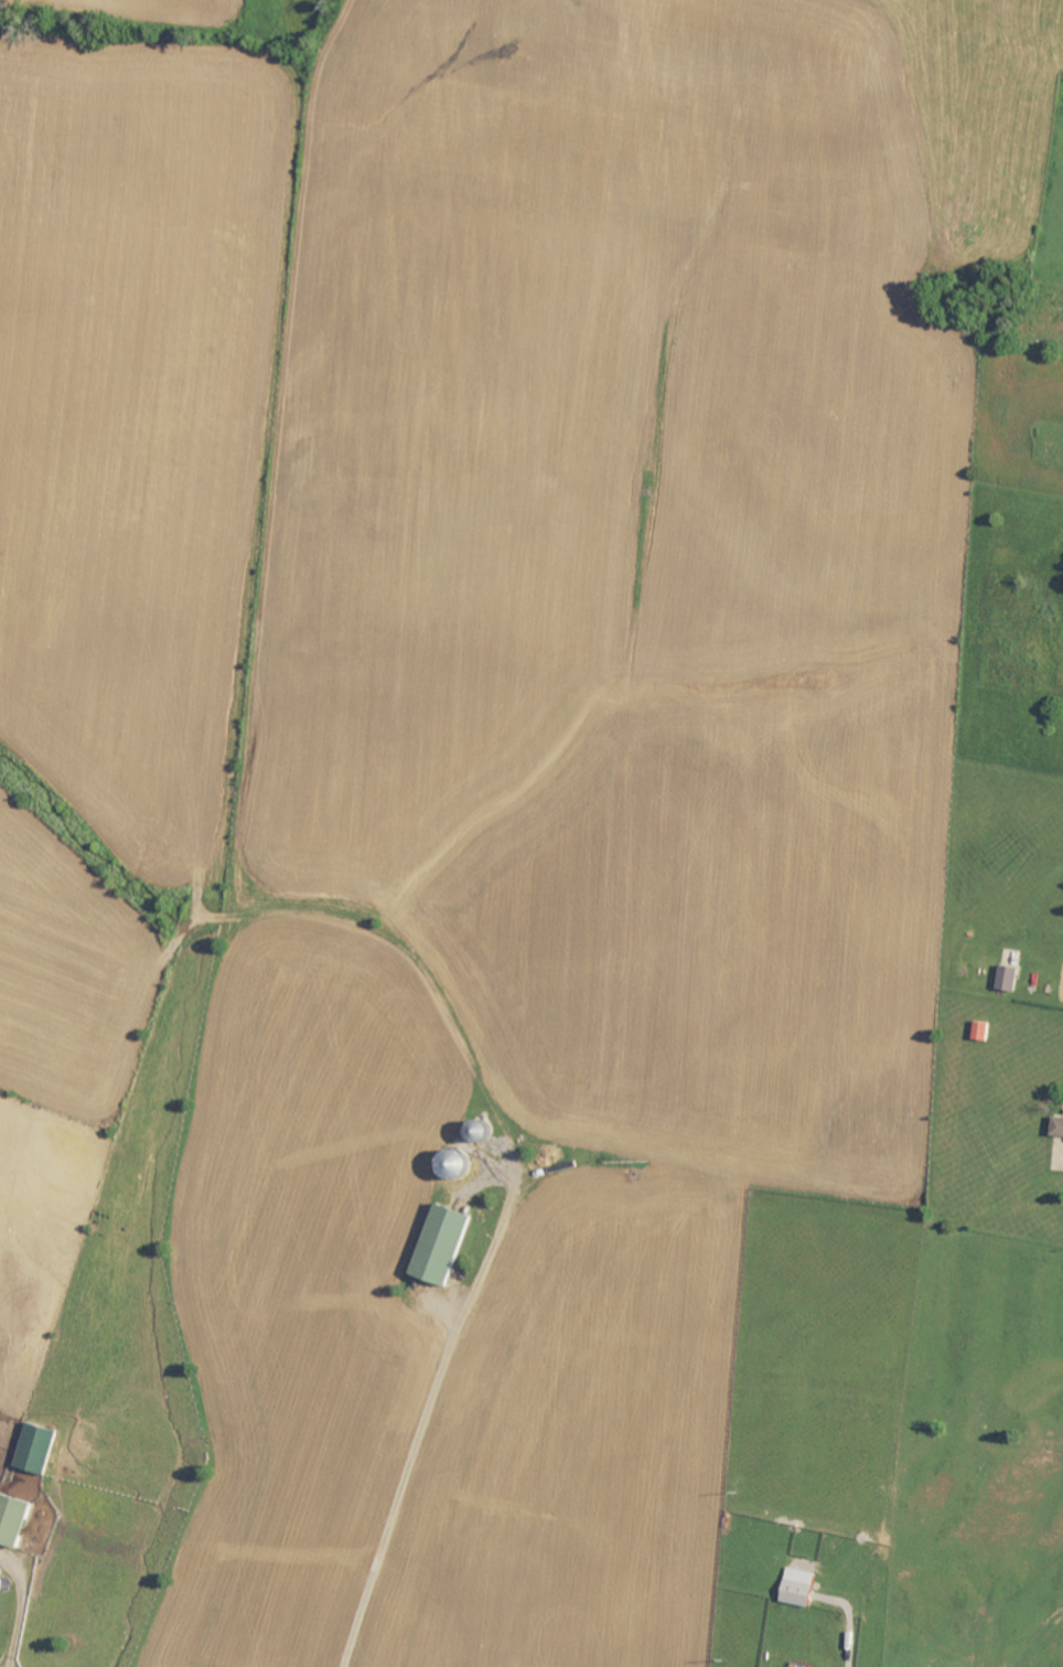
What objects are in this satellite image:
building: (1010, 979)
road: (1037, 1043)
building: (1060, 1128)
building: (447, 1244)
road: (417, 1439)
building: (43, 1449)
building: (18, 1520)
building: (804, 1588)

